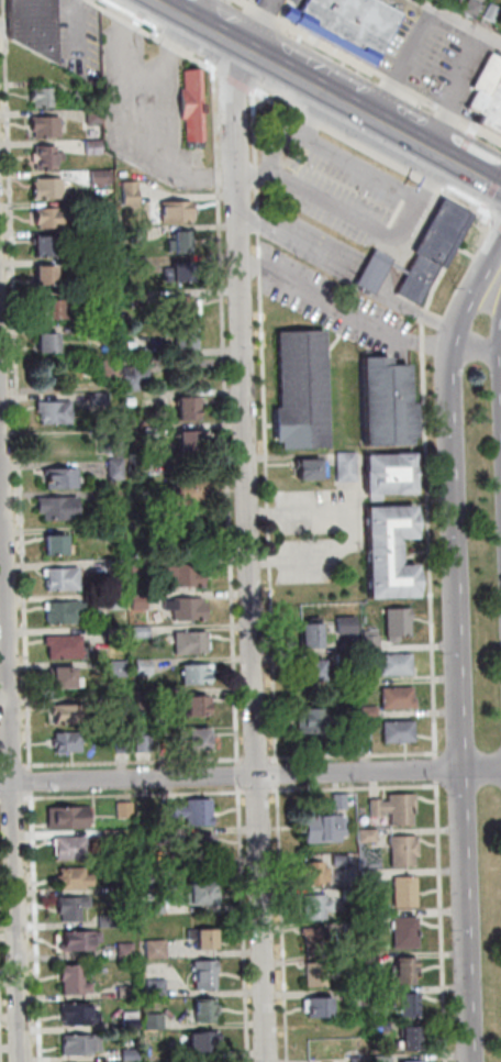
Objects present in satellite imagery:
building: (442, 0)
parking lot: (286, 3)
parking lot: (401, 5)
building: (474, 9)
building: (493, 12)
road: (461, 20)
building: (349, 24)
building: (33, 25)
road: (151, 33)
parking lot: (82, 41)
parking lot: (437, 56)
road: (369, 69)
road: (285, 70)
road: (234, 79)
building: (488, 93)
building: (45, 99)
building: (81, 99)
building: (192, 107)
parking lot: (154, 111)
road: (318, 115)
building: (98, 118)
building: (47, 129)
building: (97, 148)
road: (428, 148)
road: (335, 152)
road: (367, 152)
building: (48, 158)
road: (471, 172)
building: (103, 179)
parking lot: (346, 186)
building: (49, 190)
road: (489, 192)
building: (133, 193)
building: (101, 208)
building: (178, 212)
road: (358, 218)
building: (53, 219)
road: (490, 219)
building: (141, 235)
building: (101, 236)
building: (186, 245)
building: (47, 248)
building: (433, 248)
building: (141, 265)
building: (89, 266)
building: (372, 269)
building: (181, 276)
building: (46, 279)
road: (475, 292)
building: (96, 297)
building: (141, 297)
building: (182, 309)
road: (345, 309)
building: (55, 311)
building: (87, 331)
building: (143, 339)
building: (187, 344)
road: (479, 344)
building: (49, 346)
building: (112, 373)
road: (500, 377)
building: (137, 380)
road: (20, 383)
building: (304, 394)
building: (102, 401)
building: (389, 408)
building: (189, 411)
road: (230, 412)
building: (57, 416)
road: (268, 423)
building: (155, 433)
building: (191, 443)
building: (114, 445)
building: (349, 469)
building: (119, 471)
building: (311, 474)
road: (426, 478)
building: (393, 479)
building: (64, 480)
building: (191, 498)
building: (60, 510)
road: (355, 532)
building: (118, 534)
building: (58, 549)
road: (249, 550)
building: (393, 557)
building: (141, 568)
building: (119, 571)
building: (190, 577)
building: (65, 580)
building: (143, 601)
building: (120, 602)
building: (190, 609)
building: (67, 615)
building: (401, 627)
building: (349, 628)
building: (143, 632)
building: (120, 635)
building: (313, 641)
building: (374, 643)
building: (193, 644)
building: (67, 649)
building: (348, 660)
building: (399, 666)
building: (146, 667)
building: (122, 668)
building: (316, 675)
building: (200, 676)
building: (368, 681)
building: (67, 682)
building: (123, 700)
building: (401, 700)
road: (460, 703)
road: (13, 709)
building: (200, 709)
building: (372, 713)
building: (71, 716)
building: (315, 724)
building: (367, 733)
building: (401, 734)
building: (200, 742)
building: (126, 743)
building: (70, 744)
building: (146, 744)
building: (335, 746)
road: (352, 754)
road: (255, 759)
road: (137, 763)
road: (16, 766)
road: (438, 770)
road: (280, 771)
road: (242, 773)
road: (250, 776)
road: (34, 782)
road: (356, 788)
road: (260, 790)
road: (142, 794)
building: (172, 810)
building: (397, 810)
building: (127, 811)
building: (201, 814)
building: (70, 819)
building: (330, 826)
building: (168, 833)
building: (369, 837)
building: (115, 838)
building: (204, 849)
building: (74, 850)
building: (405, 851)
building: (343, 861)
building: (316, 873)
building: (372, 880)
building: (77, 881)
building: (408, 893)
building: (354, 894)
building: (204, 897)
building: (319, 907)
building: (75, 908)
building: (160, 909)
building: (374, 918)
building: (110, 920)
road: (443, 920)
road: (286, 922)
road: (247, 923)
building: (408, 934)
building: (80, 938)
building: (207, 941)
building: (318, 942)
building: (127, 950)
building: (159, 951)
building: (371, 960)
building: (354, 962)
building: (408, 972)
building: (318, 976)
building: (76, 977)
building: (208, 978)
building: (157, 986)
building: (126, 991)
building: (379, 993)
building: (410, 1006)
building: (207, 1007)
building: (322, 1008)
building: (79, 1011)
building: (132, 1018)
building: (156, 1019)
building: (382, 1025)
building: (205, 1039)
building: (412, 1039)
building: (81, 1042)
building: (131, 1053)
building: (360, 1059)
building: (385, 1059)
building: (410, 1061)

